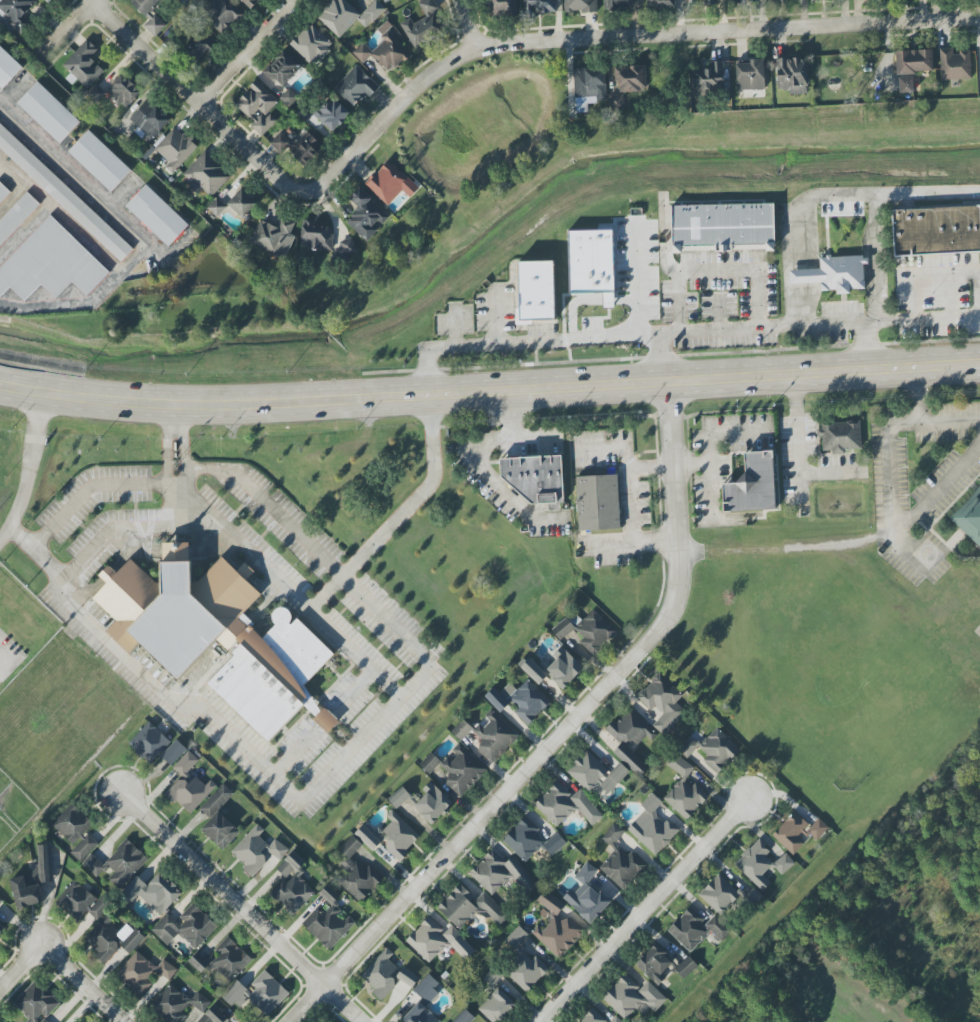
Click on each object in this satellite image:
building: (48, 0)
building: (770, 0)
building: (385, 1)
building: (699, 1)
building: (741, 1)
building: (250, 3)
building: (616, 4)
building: (659, 4)
building: (500, 6)
building: (537, 6)
building: (580, 6)
building: (16, 12)
building: (149, 14)
building: (222, 14)
building: (347, 15)
road: (474, 25)
building: (424, 26)
road: (66, 30)
road: (620, 36)
building: (311, 44)
building: (199, 46)
building: (385, 51)
road: (250, 52)
building: (913, 61)
building: (83, 64)
building: (954, 64)
building: (282, 68)
building: (7, 69)
building: (750, 75)
building: (792, 75)
building: (630, 77)
building: (708, 78)
building: (905, 84)
building: (355, 87)
building: (588, 87)
building: (123, 91)
building: (95, 93)
building: (288, 98)
building: (616, 100)
road: (200, 103)
building: (258, 107)
building: (48, 113)
building: (325, 113)
building: (149, 120)
building: (297, 146)
building: (175, 149)
building: (100, 162)
building: (207, 173)
building: (390, 183)
building: (4, 193)
building: (63, 196)
road: (825, 196)
building: (242, 203)
building: (216, 207)
building: (365, 215)
building: (16, 217)
building: (158, 217)
building: (722, 227)
building: (936, 231)
building: (316, 236)
building: (273, 237)
building: (345, 248)
building: (590, 260)
road: (876, 260)
building: (50, 264)
building: (833, 274)
road: (637, 282)
building: (536, 291)
road: (756, 300)
road: (945, 315)
road: (890, 323)
road: (519, 341)
road: (865, 347)
road: (489, 391)
building: (840, 436)
road: (531, 438)
road: (706, 445)
road: (796, 447)
road: (696, 464)
road: (480, 466)
road: (26, 472)
building: (531, 477)
building: (751, 485)
road: (123, 488)
road: (887, 500)
road: (417, 501)
building: (598, 502)
road: (631, 505)
building: (970, 520)
road: (115, 533)
road: (791, 548)
road: (280, 588)
building: (587, 630)
building: (214, 633)
road: (1, 665)
building: (563, 670)
building: (533, 671)
road: (352, 692)
building: (519, 700)
building: (662, 702)
building: (325, 720)
road: (327, 720)
building: (630, 729)
road: (570, 732)
building: (494, 735)
building: (155, 745)
building: (687, 746)
building: (718, 750)
road: (296, 754)
building: (629, 760)
road: (338, 761)
building: (185, 763)
building: (461, 770)
building: (595, 773)
building: (683, 789)
building: (189, 793)
building: (398, 797)
building: (566, 805)
building: (218, 818)
building: (652, 828)
building: (75, 830)
building: (798, 832)
building: (399, 836)
building: (367, 838)
building: (530, 841)
building: (256, 850)
building: (620, 860)
building: (45, 863)
building: (117, 864)
building: (761, 864)
building: (356, 873)
building: (500, 873)
building: (584, 873)
building: (291, 885)
building: (26, 889)
building: (153, 892)
building: (329, 894)
building: (726, 895)
building: (1, 901)
building: (80, 902)
building: (587, 903)
road: (248, 907)
building: (470, 907)
road: (648, 912)
building: (327, 926)
building: (185, 927)
building: (555, 927)
building: (1, 928)
building: (696, 928)
building: (111, 939)
building: (437, 941)
building: (229, 959)
building: (198, 962)
building: (524, 963)
building: (654, 963)
building: (685, 967)
road: (24, 969)
building: (142, 973)
building: (385, 974)
road: (88, 983)
building: (259, 994)
building: (632, 996)
building: (35, 1002)
building: (423, 1002)
building: (496, 1005)
building: (464, 1017)
building: (592, 1017)
building: (616, 1019)
building: (330, 1021)

